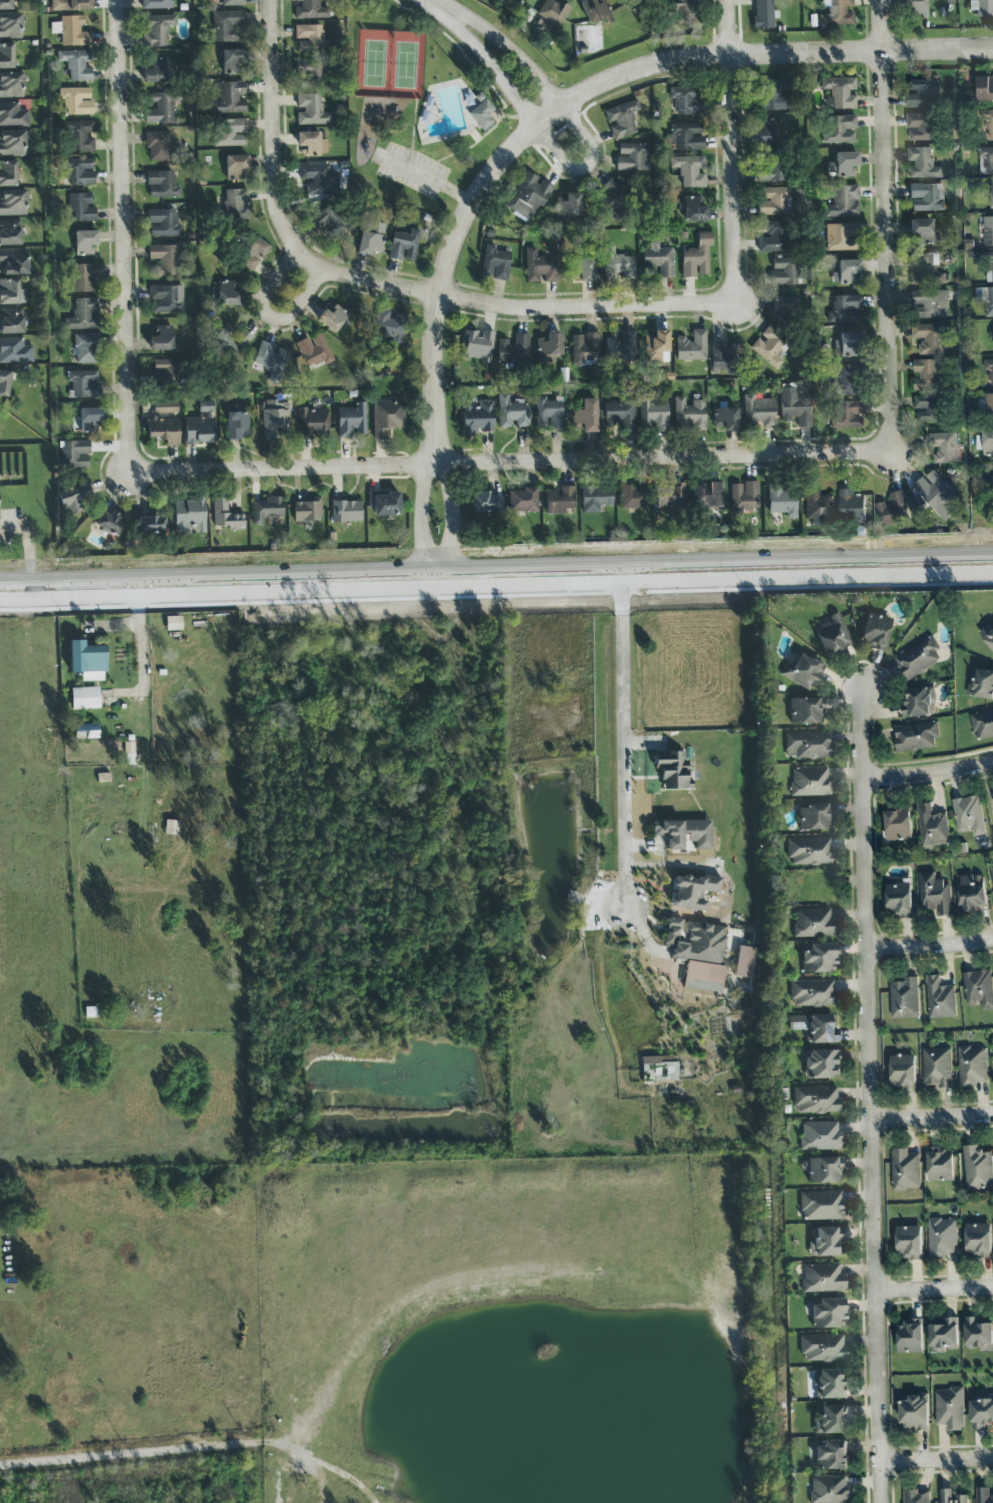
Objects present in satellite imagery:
building: (231, 2)
building: (156, 4)
building: (5, 5)
building: (69, 5)
building: (982, 8)
building: (913, 9)
building: (308, 10)
building: (596, 11)
building: (683, 12)
building: (836, 13)
building: (763, 14)
building: (551, 16)
building: (10, 26)
building: (226, 26)
building: (156, 30)
building: (70, 31)
building: (309, 39)
road: (504, 48)
building: (6, 56)
building: (232, 61)
park: (390, 63)
building: (76, 65)
building: (154, 72)
building: (309, 73)
road: (504, 81)
building: (11, 85)
building: (984, 88)
building: (840, 93)
building: (922, 93)
building: (773, 95)
building: (229, 98)
building: (686, 100)
building: (75, 101)
building: (161, 109)
building: (310, 110)
building: (12, 115)
building: (481, 115)
building: (621, 119)
building: (989, 124)
building: (921, 126)
building: (839, 130)
building: (229, 132)
building: (766, 132)
road: (529, 134)
building: (79, 136)
building: (687, 137)
building: (311, 143)
building: (11, 144)
road: (273, 145)
building: (158, 146)
road: (730, 146)
road: (593, 148)
building: (631, 157)
building: (987, 158)
building: (922, 163)
building: (842, 165)
building: (236, 168)
building: (773, 168)
building: (689, 170)
building: (77, 171)
parking lot: (412, 171)
building: (8, 174)
building: (318, 179)
road: (429, 182)
building: (161, 185)
building: (528, 196)
building: (991, 196)
building: (926, 197)
building: (610, 199)
building: (774, 201)
building: (842, 202)
building: (12, 203)
building: (235, 203)
building: (567, 205)
building: (80, 208)
building: (693, 209)
building: (328, 222)
building: (162, 224)
road: (884, 226)
building: (988, 230)
building: (9, 232)
building: (921, 232)
building: (840, 237)
building: (774, 238)
road: (123, 239)
building: (370, 240)
building: (84, 243)
building: (403, 245)
building: (251, 252)
building: (164, 258)
building: (696, 258)
building: (657, 261)
building: (991, 261)
building: (13, 262)
building: (495, 263)
building: (616, 265)
building: (538, 268)
building: (579, 269)
building: (925, 269)
building: (784, 272)
building: (846, 273)
building: (83, 278)
building: (11, 292)
building: (226, 294)
building: (166, 299)
building: (985, 299)
building: (929, 304)
building: (783, 305)
building: (844, 309)
road: (529, 311)
building: (83, 315)
road: (269, 317)
building: (333, 319)
building: (11, 321)
building: (386, 326)
building: (992, 332)
building: (928, 338)
building: (161, 339)
building: (230, 341)
building: (476, 345)
building: (847, 345)
building: (691, 346)
building: (768, 346)
building: (656, 347)
building: (549, 348)
building: (621, 348)
building: (86, 349)
building: (584, 349)
building: (513, 350)
building: (14, 351)
building: (313, 351)
building: (724, 358)
building: (270, 359)
building: (989, 369)
building: (165, 370)
building: (926, 375)
building: (843, 380)
building: (4, 382)
building: (83, 383)
building: (795, 405)
building: (989, 407)
building: (927, 408)
building: (512, 412)
building: (547, 413)
building: (758, 413)
building: (619, 415)
building: (652, 415)
building: (688, 415)
building: (847, 415)
building: (585, 416)
building: (386, 418)
building: (477, 418)
building: (89, 419)
building: (273, 419)
building: (725, 419)
building: (351, 421)
building: (164, 423)
building: (237, 423)
building: (313, 423)
building: (200, 426)
building: (984, 443)
building: (942, 446)
building: (74, 455)
road: (509, 466)
building: (992, 478)
building: (936, 492)
building: (706, 496)
building: (669, 497)
building: (743, 497)
building: (632, 498)
building: (594, 499)
building: (72, 500)
building: (523, 500)
building: (559, 500)
building: (781, 500)
building: (484, 503)
building: (385, 505)
building: (851, 505)
building: (817, 506)
building: (265, 509)
building: (893, 509)
building: (307, 510)
building: (345, 512)
building: (225, 516)
building: (188, 517)
building: (108, 522)
building: (150, 525)
road: (27, 542)
road: (716, 544)
road: (496, 564)
road: (808, 566)
road: (717, 580)
road: (380, 590)
road: (159, 596)
building: (173, 623)
building: (875, 631)
building: (987, 635)
building: (832, 636)
road: (139, 650)
building: (919, 658)
building: (89, 660)
building: (802, 672)
building: (982, 685)
building: (84, 699)
building: (919, 702)
building: (805, 711)
building: (983, 724)
building: (86, 732)
building: (916, 736)
building: (806, 746)
road: (623, 751)
building: (129, 753)
building: (671, 769)
road: (928, 772)
building: (810, 782)
building: (968, 814)
building: (814, 817)
building: (898, 823)
building: (932, 826)
building: (992, 832)
building: (667, 835)
building: (810, 852)
building: (992, 870)
building: (692, 892)
building: (934, 893)
building: (972, 893)
building: (899, 900)
crop: (122, 919)
building: (813, 924)
building: (694, 941)
road: (930, 947)
building: (818, 959)
building: (746, 963)
building: (703, 977)
building: (979, 989)
building: (813, 994)
building: (905, 998)
building: (940, 999)
building: (815, 1028)
building: (820, 1065)
building: (972, 1066)
building: (937, 1067)
building: (903, 1071)
road: (872, 1095)
building: (816, 1100)
road: (933, 1118)
building: (820, 1136)
building: (941, 1164)
building: (978, 1168)
building: (905, 1170)
building: (824, 1171)
building: (821, 1206)
building: (943, 1238)
building: (978, 1240)
building: (909, 1242)
building: (825, 1243)
building: (823, 1279)
road: (935, 1288)
building: (943, 1334)
building: (978, 1335)
building: (910, 1337)
building: (822, 1349)
building: (829, 1384)
building: (950, 1408)
building: (981, 1411)
building: (915, 1412)
building: (829, 1420)
road: (199, 1449)
building: (831, 1455)
road: (937, 1461)
building: (829, 1489)
building: (945, 1493)
building: (984, 1495)
building: (917, 1497)

